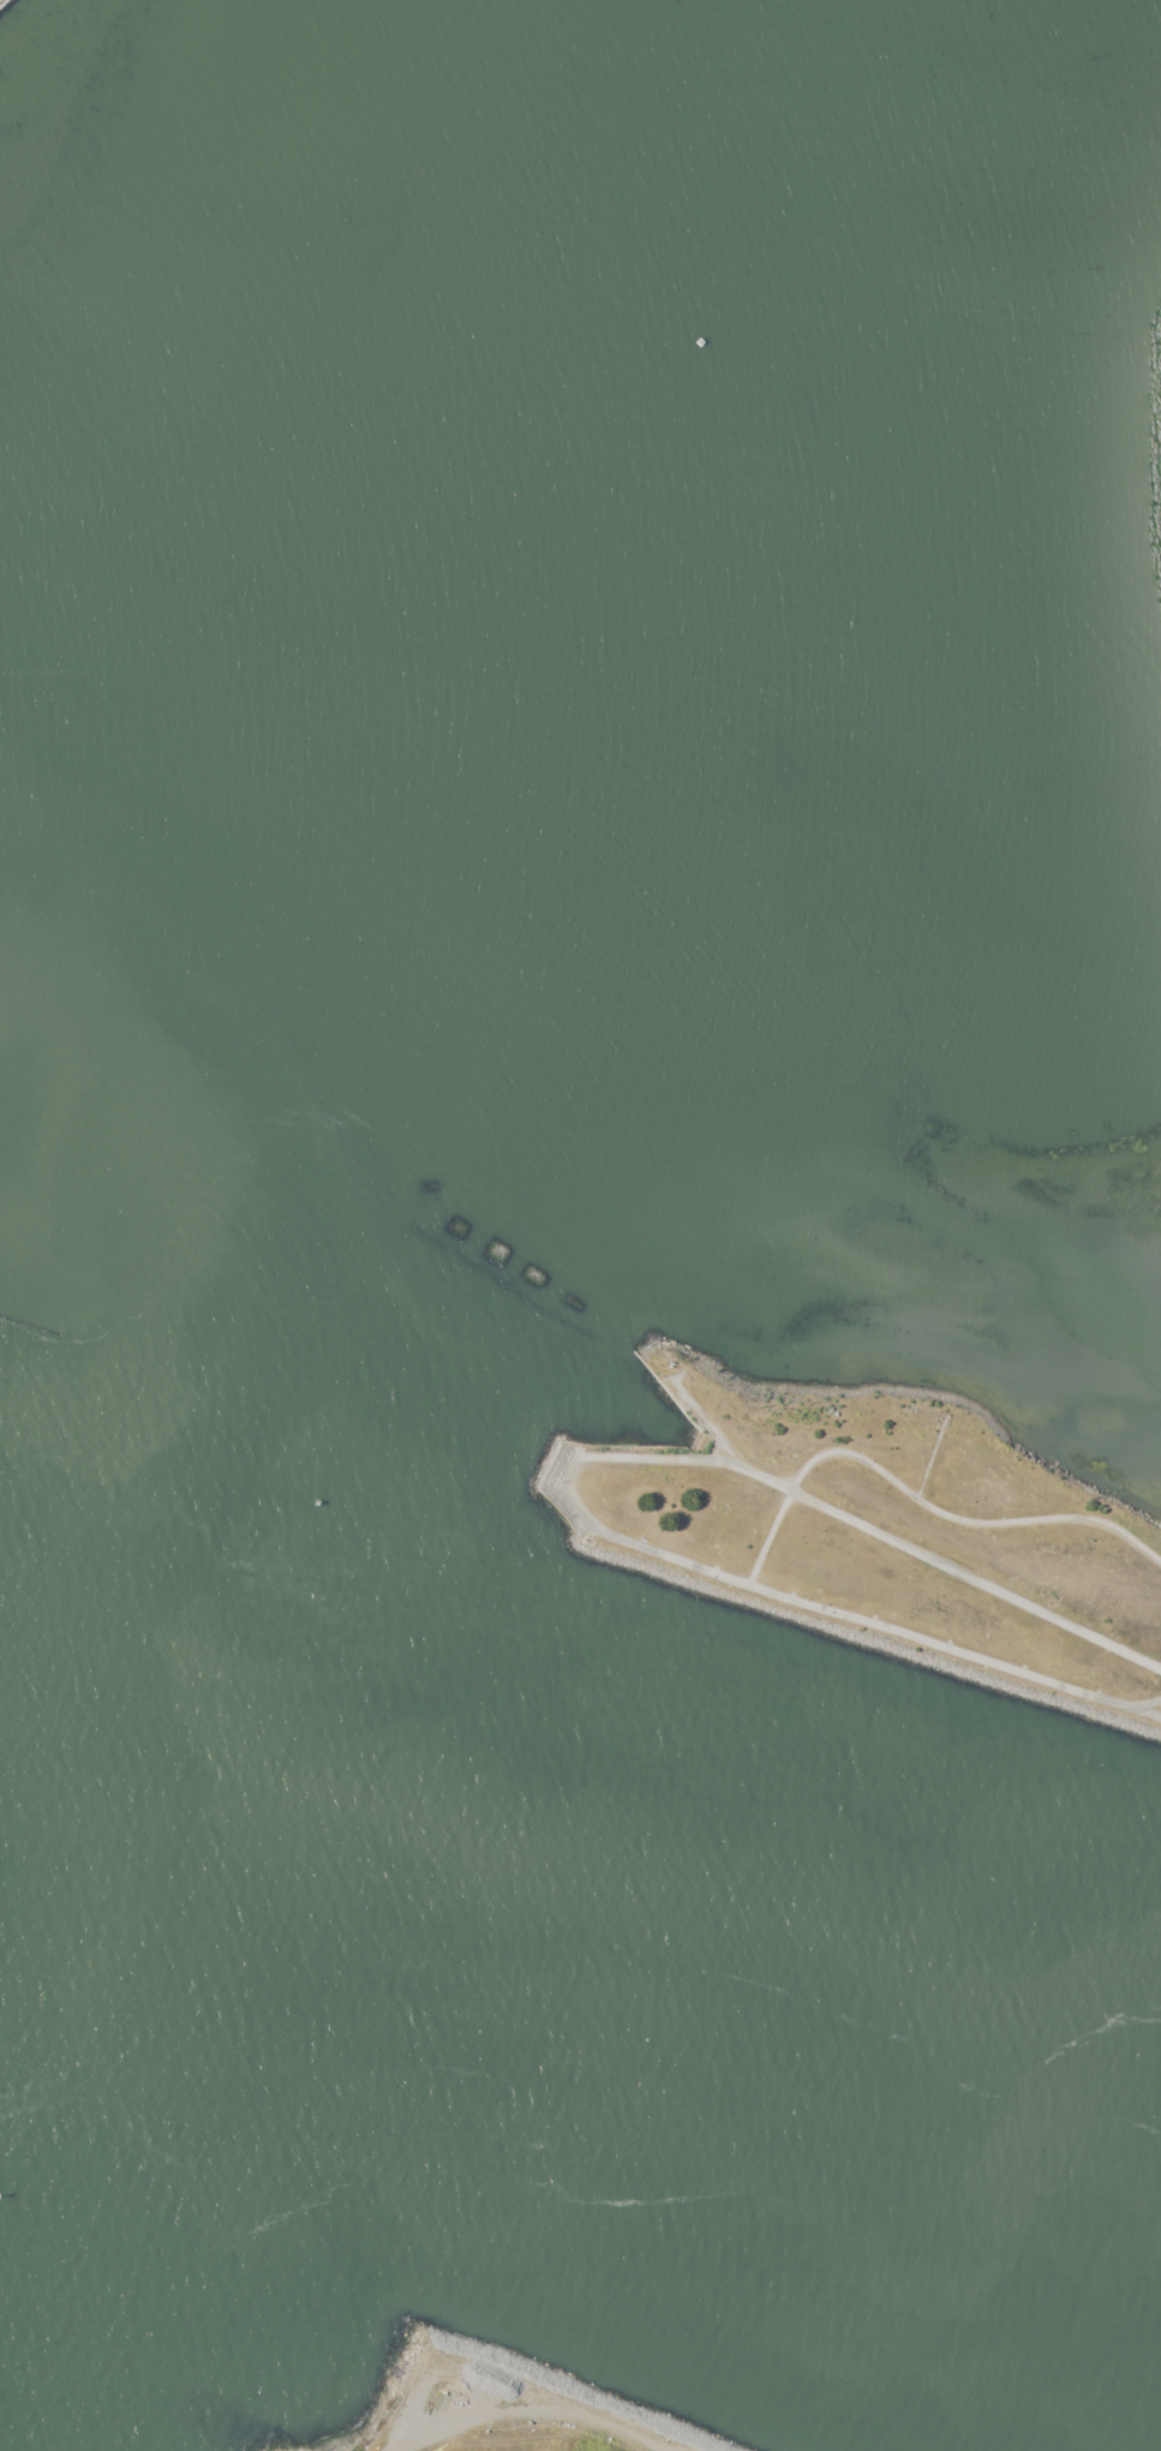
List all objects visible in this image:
park: (1, 1)
park: (1, 1)
road: (839, 1453)
road: (682, 1458)
road: (1041, 1519)
park: (881, 1534)
road: (944, 1566)
road: (845, 1615)
road: (1147, 1712)
river: (701, 2007)
road: (544, 2417)

